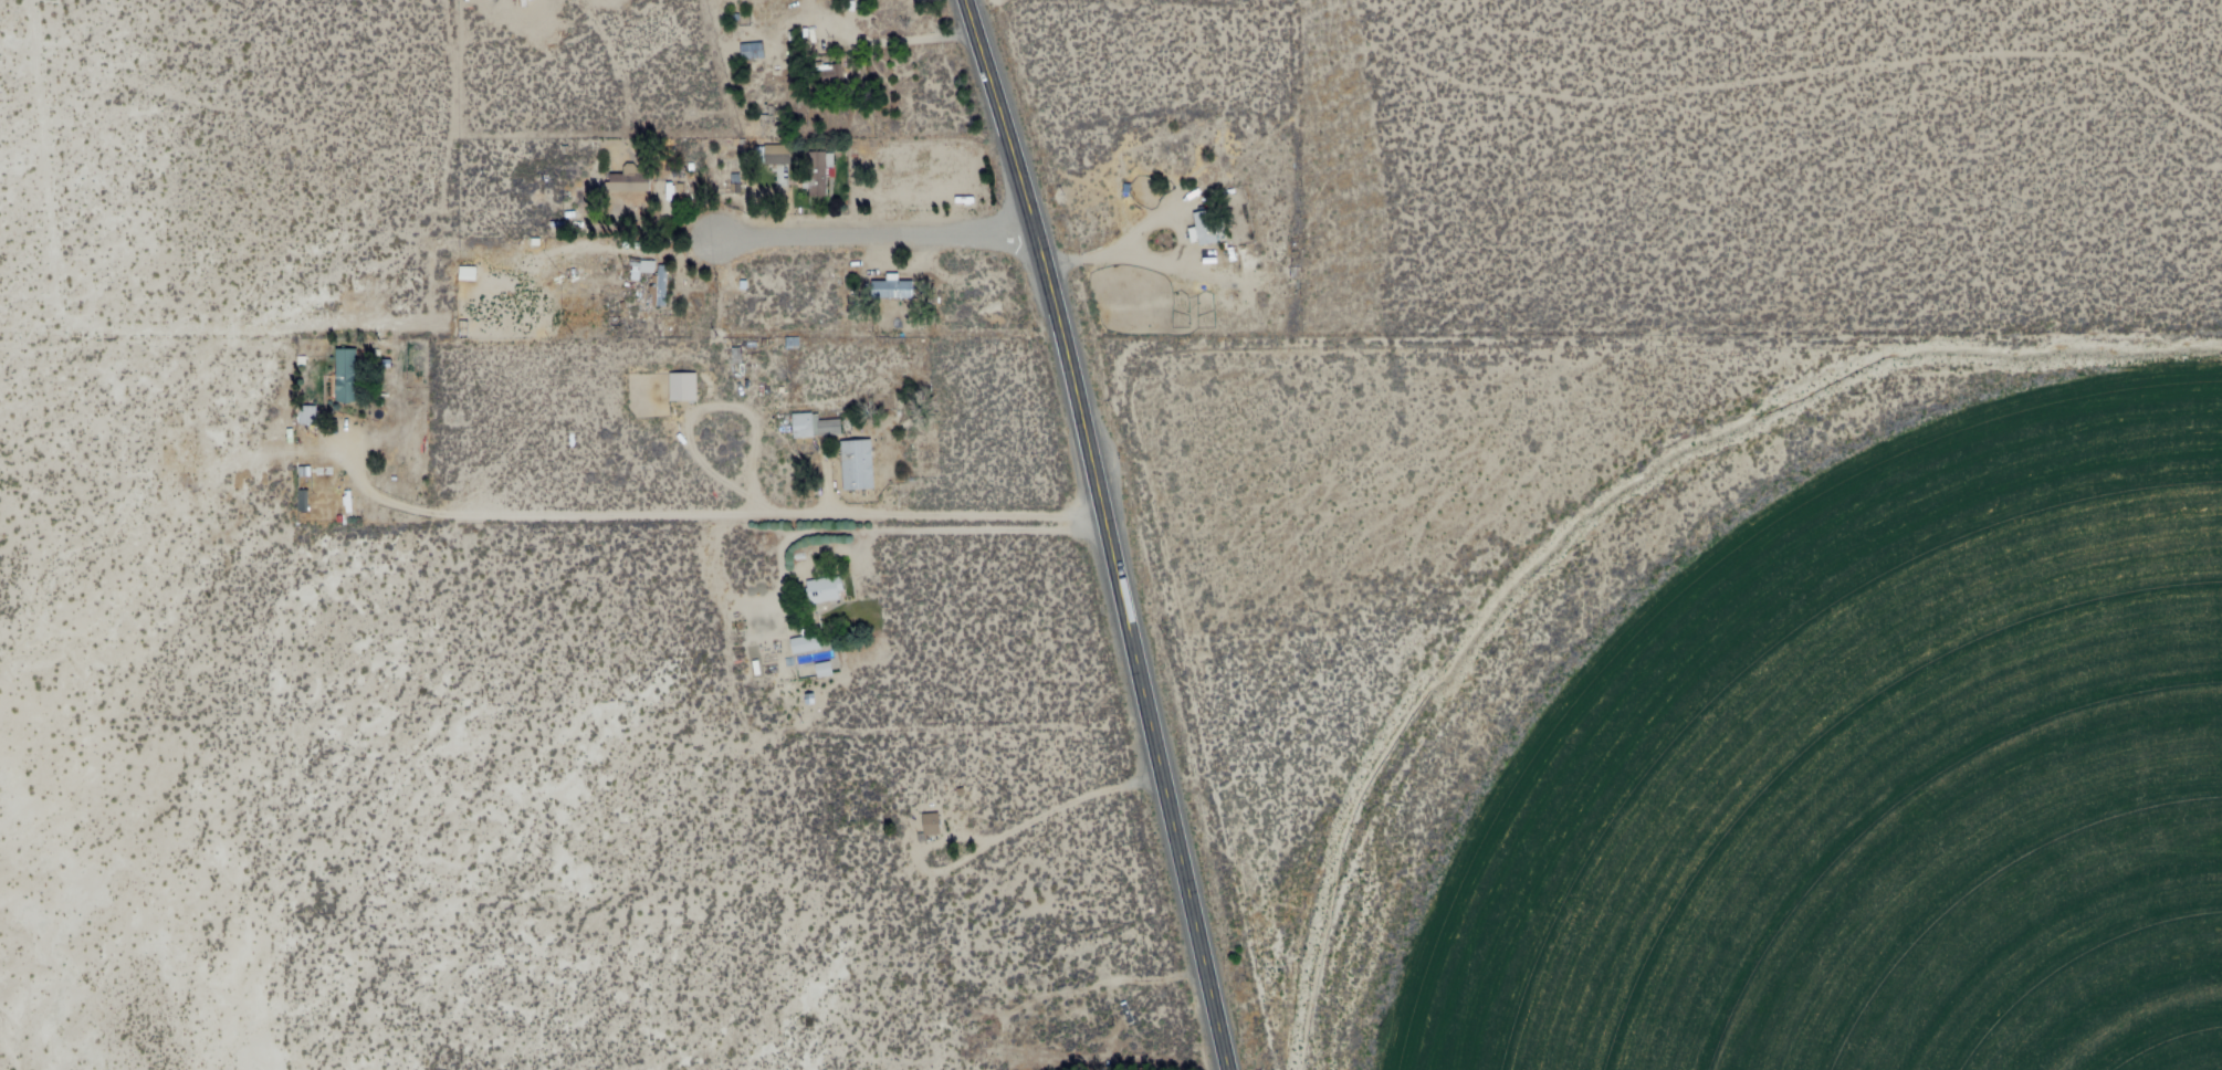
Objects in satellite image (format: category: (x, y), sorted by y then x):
building: (753, 53)
building: (827, 77)
building: (774, 156)
building: (821, 176)
building: (629, 186)
building: (1218, 211)
building: (1197, 229)
road: (873, 233)
building: (1207, 258)
building: (665, 281)
building: (897, 292)
building: (355, 379)
building: (684, 390)
building: (310, 417)
building: (817, 426)
building: (305, 465)
building: (860, 468)
road: (702, 521)
road: (1108, 532)
building: (829, 590)
building: (799, 644)
building: (819, 669)
crop: (1874, 774)
road: (1045, 816)
building: (934, 824)

